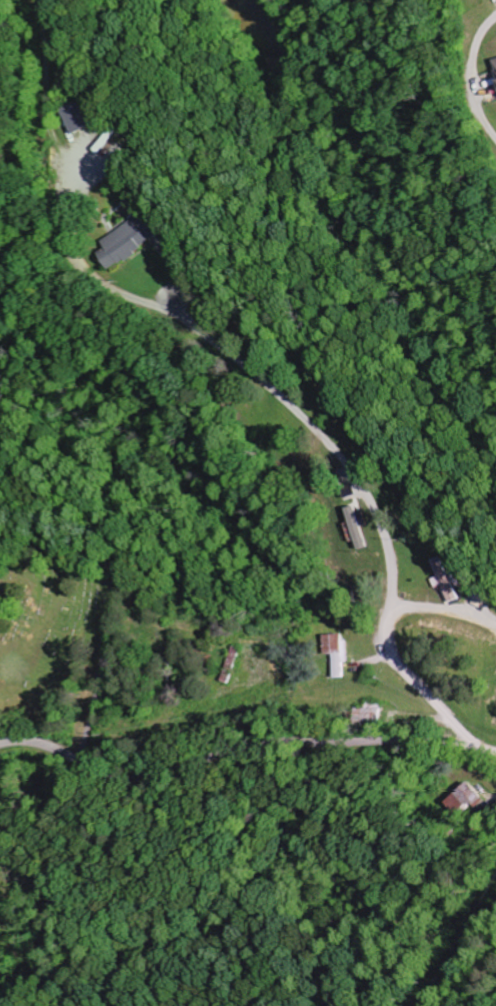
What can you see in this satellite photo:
building: (494, 68)
road: (475, 78)
building: (89, 117)
building: (133, 242)
road: (299, 419)
building: (360, 526)
building: (444, 580)
road: (119, 597)
park: (51, 638)
building: (336, 654)
road: (239, 756)
building: (462, 798)

